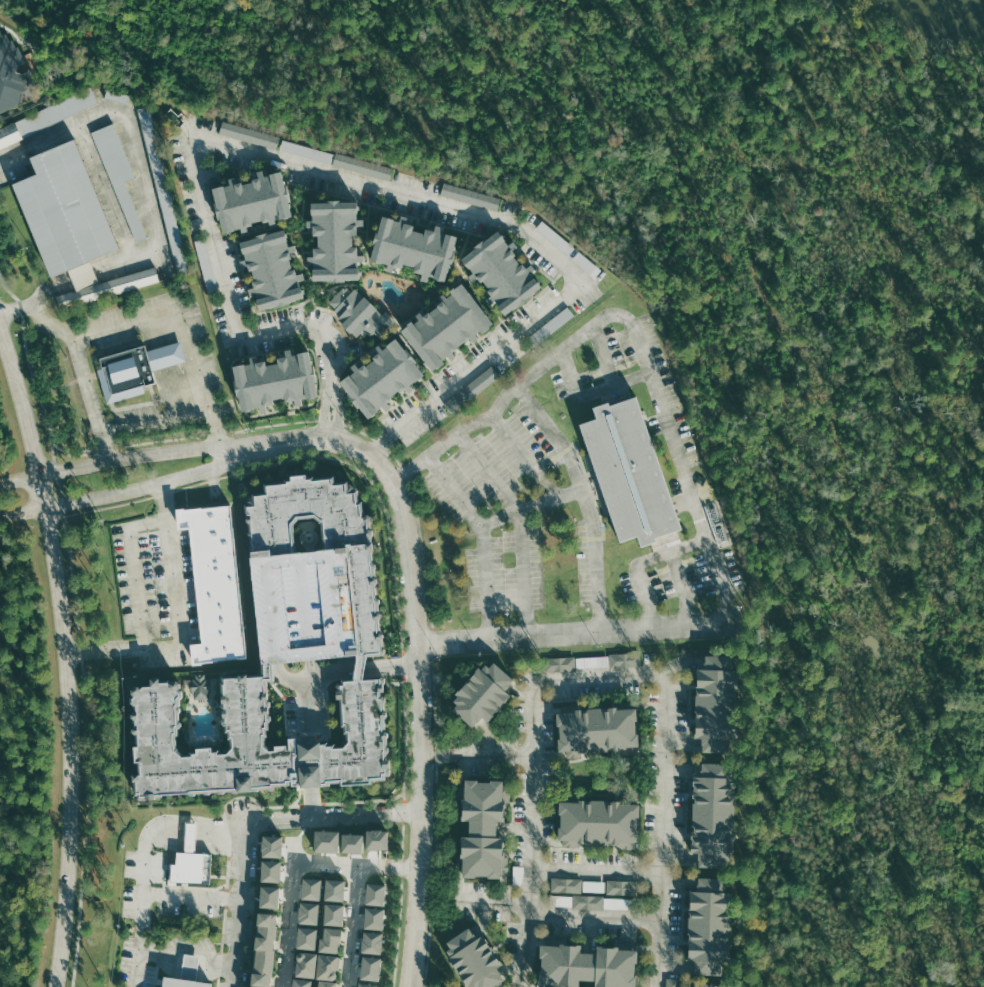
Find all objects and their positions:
building: (12, 74)
building: (116, 96)
building: (47, 116)
building: (250, 134)
building: (308, 151)
building: (363, 166)
road: (330, 174)
building: (119, 175)
building: (163, 190)
building: (472, 196)
road: (147, 197)
building: (252, 202)
road: (399, 212)
building: (65, 225)
building: (335, 241)
building: (414, 248)
road: (240, 264)
building: (271, 269)
building: (501, 272)
road: (411, 277)
road: (339, 284)
road: (483, 298)
road: (301, 308)
building: (360, 313)
road: (183, 325)
building: (447, 326)
road: (634, 330)
road: (486, 334)
road: (399, 335)
road: (604, 355)
parking lot: (151, 363)
road: (185, 364)
road: (178, 366)
road: (170, 367)
road: (164, 368)
building: (135, 369)
road: (156, 370)
road: (83, 373)
building: (383, 377)
building: (274, 380)
building: (482, 381)
road: (68, 383)
road: (590, 392)
road: (156, 421)
road: (136, 456)
road: (525, 457)
building: (629, 471)
road: (140, 489)
parking lot: (582, 495)
road: (587, 498)
road: (531, 506)
road: (519, 523)
road: (481, 537)
road: (419, 538)
road: (642, 562)
road: (134, 568)
building: (361, 570)
road: (395, 571)
building: (214, 582)
road: (683, 588)
parking lot: (157, 589)
parking lot: (303, 605)
road: (177, 620)
road: (77, 628)
road: (575, 632)
road: (65, 657)
building: (626, 660)
building: (593, 662)
building: (560, 664)
road: (421, 666)
road: (602, 676)
building: (200, 686)
road: (313, 690)
building: (482, 693)
building: (716, 703)
building: (597, 728)
building: (255, 741)
road: (478, 755)
road: (227, 805)
building: (713, 814)
road: (250, 819)
building: (599, 821)
road: (335, 828)
building: (483, 830)
road: (189, 831)
building: (190, 835)
building: (374, 838)
building: (336, 840)
building: (269, 845)
building: (188, 865)
road: (357, 865)
building: (267, 869)
road: (597, 871)
building: (567, 885)
building: (595, 886)
building: (308, 887)
building: (620, 887)
parking lot: (159, 889)
building: (373, 893)
road: (169, 895)
building: (266, 895)
building: (562, 899)
road: (492, 901)
building: (601, 903)
building: (306, 911)
road: (140, 912)
road: (287, 914)
building: (371, 917)
road: (595, 917)
road: (352, 926)
building: (710, 926)
building: (327, 934)
building: (304, 936)
building: (369, 941)
building: (262, 947)
parking lot: (152, 953)
road: (138, 958)
building: (474, 959)
road: (187, 962)
building: (325, 962)
building: (303, 964)
building: (588, 965)
building: (189, 966)
building: (184, 982)
building: (325, 982)
building: (673, 982)
building: (704, 983)

